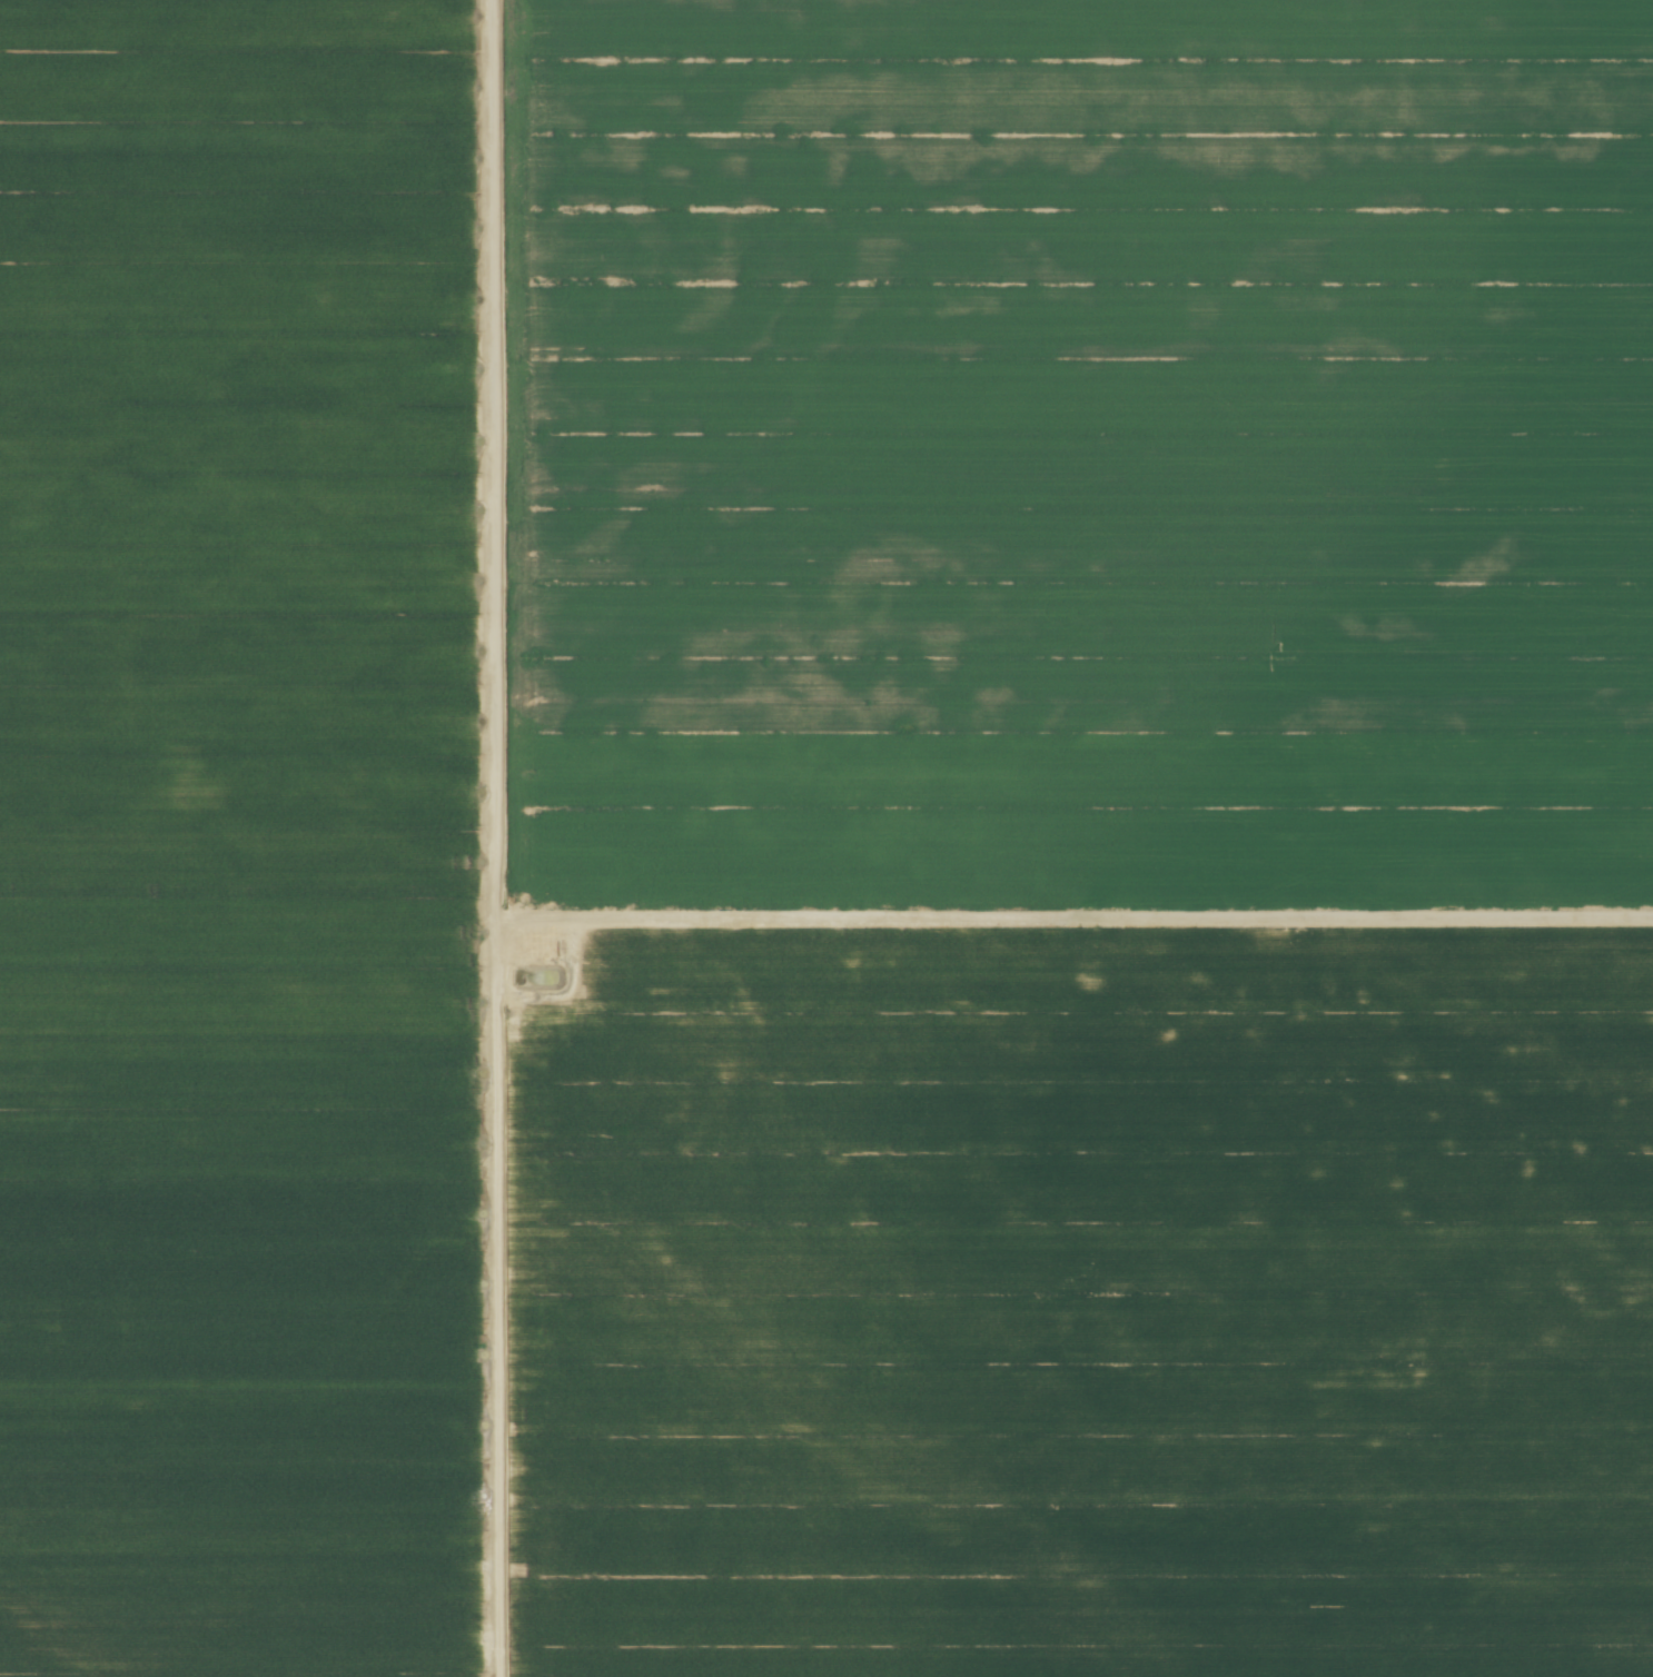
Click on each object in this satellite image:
crop: (826, 838)

